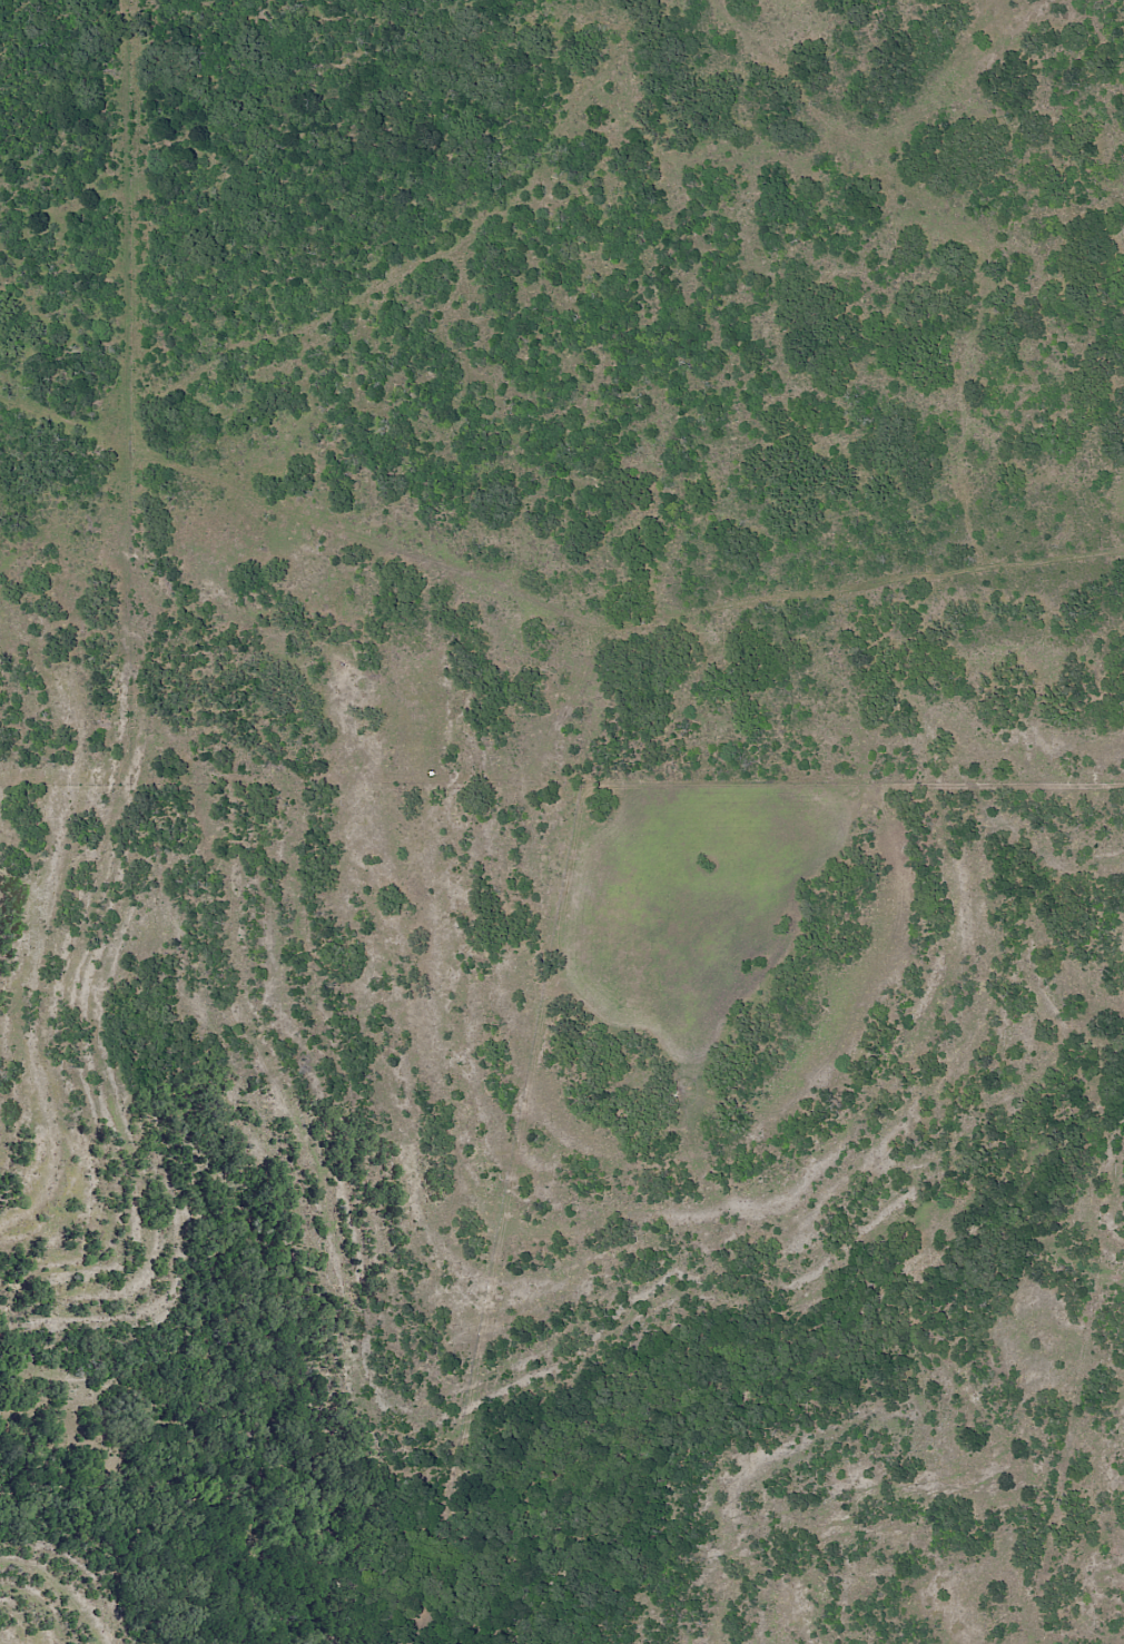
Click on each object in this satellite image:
road: (464, 274)
road: (544, 600)

